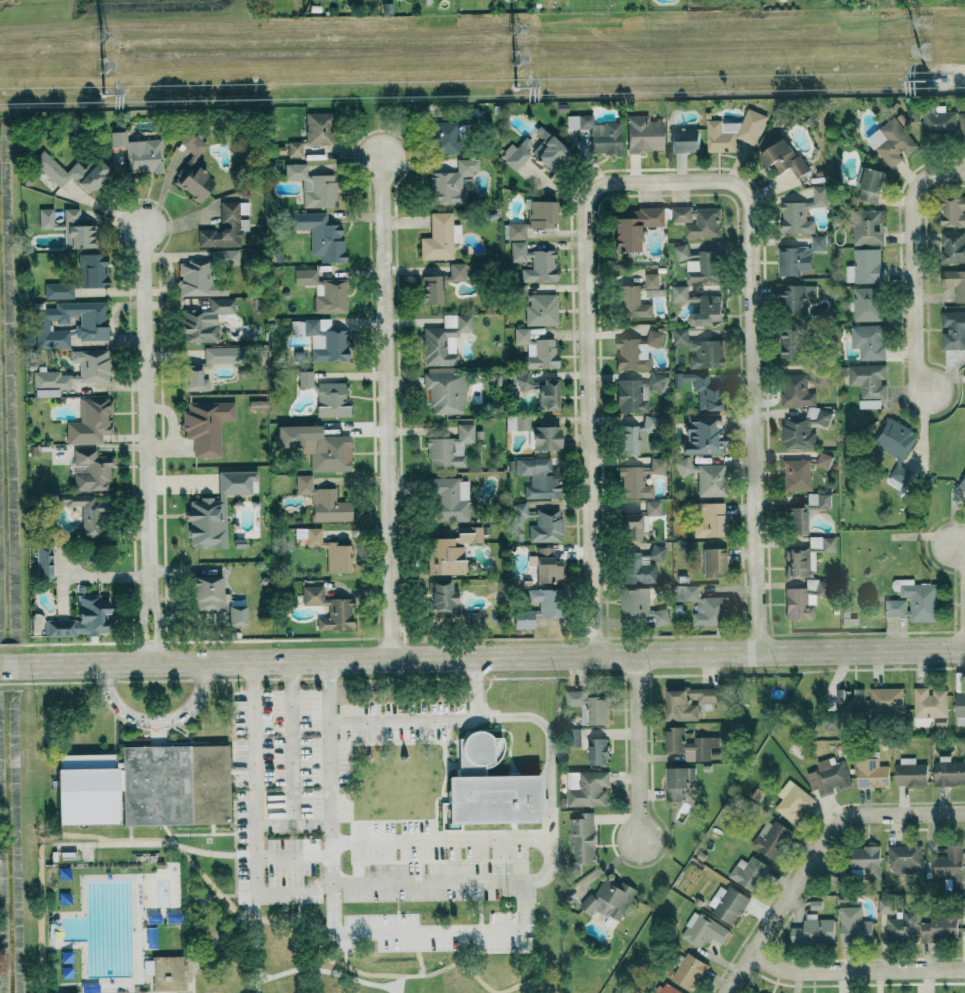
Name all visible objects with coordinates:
power tower: (925, 22)
power tower: (514, 29)
power tower: (102, 36)
power tower: (927, 51)
power tower: (514, 59)
power tower: (102, 65)
power tower: (926, 79)
power tower: (514, 85)
power tower: (101, 94)
building: (472, 117)
building: (318, 128)
building: (962, 128)
building: (598, 133)
building: (643, 134)
building: (442, 137)
building: (117, 138)
building: (684, 138)
building: (892, 142)
building: (294, 148)
building: (534, 153)
building: (144, 156)
building: (783, 158)
building: (192, 169)
building: (71, 173)
road: (667, 182)
building: (451, 183)
building: (871, 185)
building: (314, 186)
building: (802, 212)
building: (952, 212)
building: (541, 215)
building: (45, 218)
building: (697, 221)
building: (634, 227)
building: (868, 227)
building: (223, 228)
building: (77, 230)
building: (516, 231)
building: (320, 236)
building: (440, 238)
building: (953, 247)
building: (683, 253)
building: (224, 257)
building: (799, 257)
building: (535, 263)
road: (910, 263)
building: (865, 266)
building: (702, 268)
building: (92, 271)
building: (196, 280)
building: (442, 283)
building: (955, 283)
building: (58, 290)
building: (324, 291)
building: (682, 294)
building: (635, 298)
building: (796, 299)
building: (867, 304)
building: (537, 306)
building: (706, 311)
building: (204, 320)
building: (91, 327)
building: (953, 330)
building: (321, 339)
building: (444, 340)
building: (869, 341)
building: (789, 345)
building: (536, 350)
building: (700, 350)
building: (636, 351)
building: (93, 373)
building: (192, 373)
building: (305, 379)
building: (523, 380)
building: (656, 382)
building: (869, 384)
building: (701, 390)
building: (797, 390)
building: (445, 392)
building: (548, 395)
building: (630, 397)
building: (331, 400)
building: (257, 405)
road: (387, 409)
road: (754, 419)
building: (90, 421)
road: (588, 421)
building: (517, 423)
building: (206, 426)
building: (803, 428)
building: (701, 435)
building: (637, 436)
road: (148, 439)
building: (546, 439)
building: (450, 448)
building: (896, 448)
building: (323, 449)
building: (824, 460)
building: (91, 471)
building: (796, 475)
building: (539, 477)
building: (704, 477)
building: (638, 479)
building: (962, 485)
building: (449, 499)
building: (818, 501)
building: (323, 502)
building: (652, 508)
building: (216, 510)
building: (520, 510)
building: (85, 514)
building: (709, 520)
building: (795, 521)
building: (546, 526)
building: (630, 528)
building: (327, 550)
building: (451, 551)
building: (657, 552)
building: (807, 556)
road: (959, 558)
building: (43, 562)
building: (714, 563)
building: (546, 567)
building: (637, 570)
building: (812, 586)
building: (206, 593)
building: (915, 602)
building: (450, 604)
building: (799, 605)
building: (549, 606)
building: (704, 606)
building: (640, 607)
building: (329, 609)
building: (235, 615)
building: (83, 619)
road: (482, 655)
road: (163, 680)
building: (688, 701)
building: (849, 701)
building: (886, 701)
building: (928, 705)
building: (588, 706)
building: (960, 708)
road: (156, 719)
road: (434, 720)
building: (573, 737)
road: (291, 741)
road: (634, 742)
building: (688, 744)
building: (597, 750)
road: (553, 767)
road: (330, 770)
building: (949, 771)
building: (910, 772)
building: (871, 773)
building: (829, 777)
building: (678, 782)
building: (487, 785)
building: (144, 786)
building: (586, 788)
building: (792, 801)
road: (234, 811)
road: (293, 822)
road: (213, 828)
road: (366, 829)
road: (202, 833)
building: (582, 837)
building: (770, 838)
road: (441, 839)
road: (175, 843)
road: (43, 847)
road: (814, 849)
road: (205, 850)
building: (905, 858)
road: (294, 859)
building: (866, 860)
building: (949, 867)
building: (749, 872)
road: (208, 878)
road: (282, 895)
building: (609, 898)
building: (727, 903)
building: (885, 905)
building: (963, 906)
road: (384, 923)
building: (854, 925)
road: (189, 926)
park: (253, 926)
building: (902, 926)
building: (940, 926)
building: (703, 930)
building: (813, 930)
road: (515, 931)
road: (223, 932)
road: (514, 936)
road: (258, 944)
road: (299, 944)
road: (353, 954)
road: (440, 970)
building: (688, 971)
building: (164, 972)
road: (856, 974)
road: (403, 983)
building: (667, 988)

